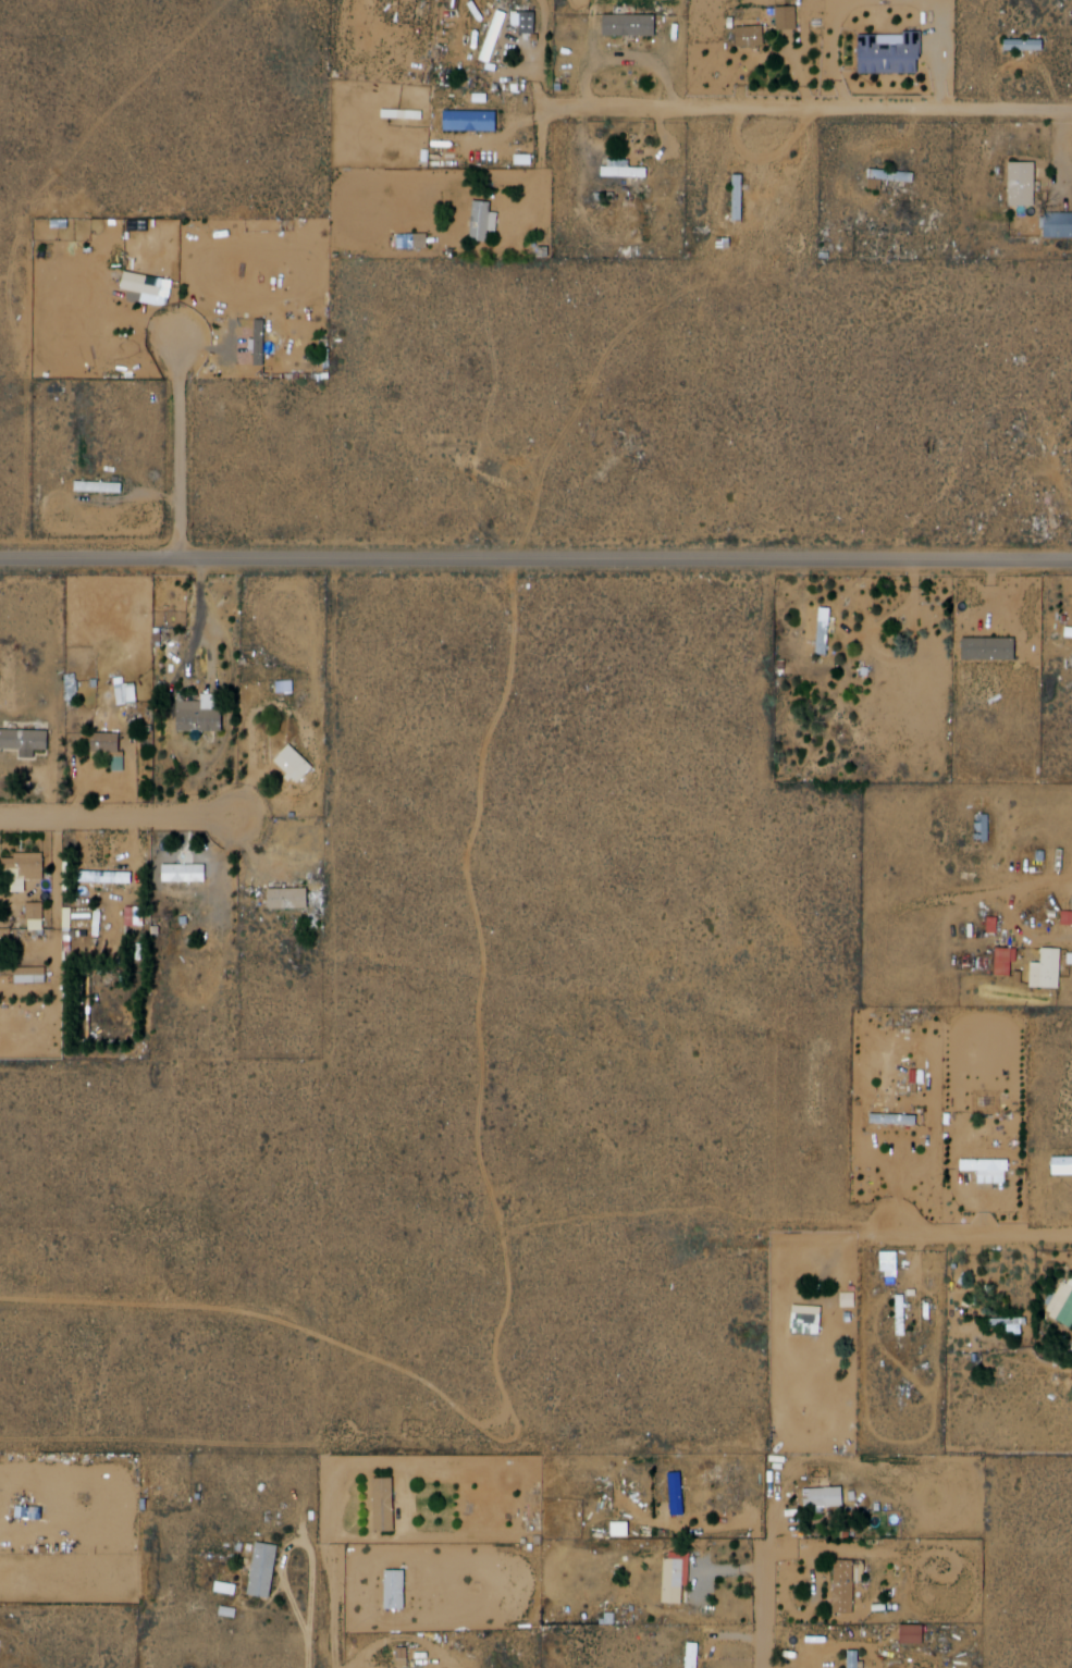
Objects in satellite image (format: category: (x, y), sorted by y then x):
building: (632, 25)
building: (500, 29)
building: (754, 35)
building: (491, 36)
building: (1028, 46)
building: (895, 51)
road: (809, 108)
building: (473, 121)
building: (627, 168)
building: (889, 177)
building: (1027, 183)
building: (736, 197)
building: (743, 198)
building: (464, 217)
building: (488, 219)
building: (1059, 227)
building: (152, 286)
building: (263, 342)
building: (257, 343)
road: (185, 452)
building: (102, 486)
road: (535, 561)
building: (827, 629)
building: (821, 632)
building: (1070, 632)
building: (994, 648)
building: (205, 713)
building: (27, 742)
building: (114, 752)
building: (298, 766)
road: (127, 818)
building: (978, 819)
building: (189, 874)
building: (19, 882)
building: (122, 886)
building: (292, 895)
building: (101, 924)
building: (1000, 961)
building: (1050, 971)
building: (897, 1119)
building: (1063, 1167)
building: (993, 1170)
road: (990, 1237)
building: (1063, 1300)
building: (904, 1314)
building: (898, 1315)
building: (811, 1324)
building: (680, 1493)
building: (827, 1498)
building: (386, 1505)
building: (616, 1529)
building: (268, 1569)
building: (679, 1577)
building: (847, 1586)
road: (337, 1596)
road: (768, 1598)
building: (910, 1634)
building: (694, 1654)
building: (689, 1655)
building: (850, 1658)
building: (857, 1659)

